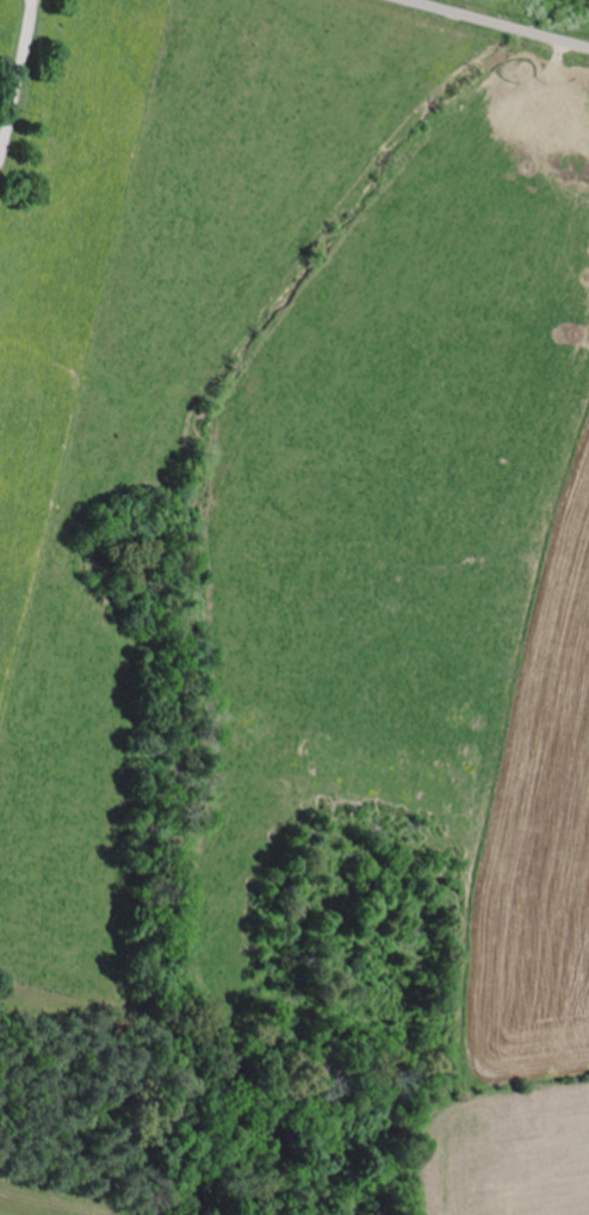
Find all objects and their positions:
road: (497, 24)
road: (17, 75)

